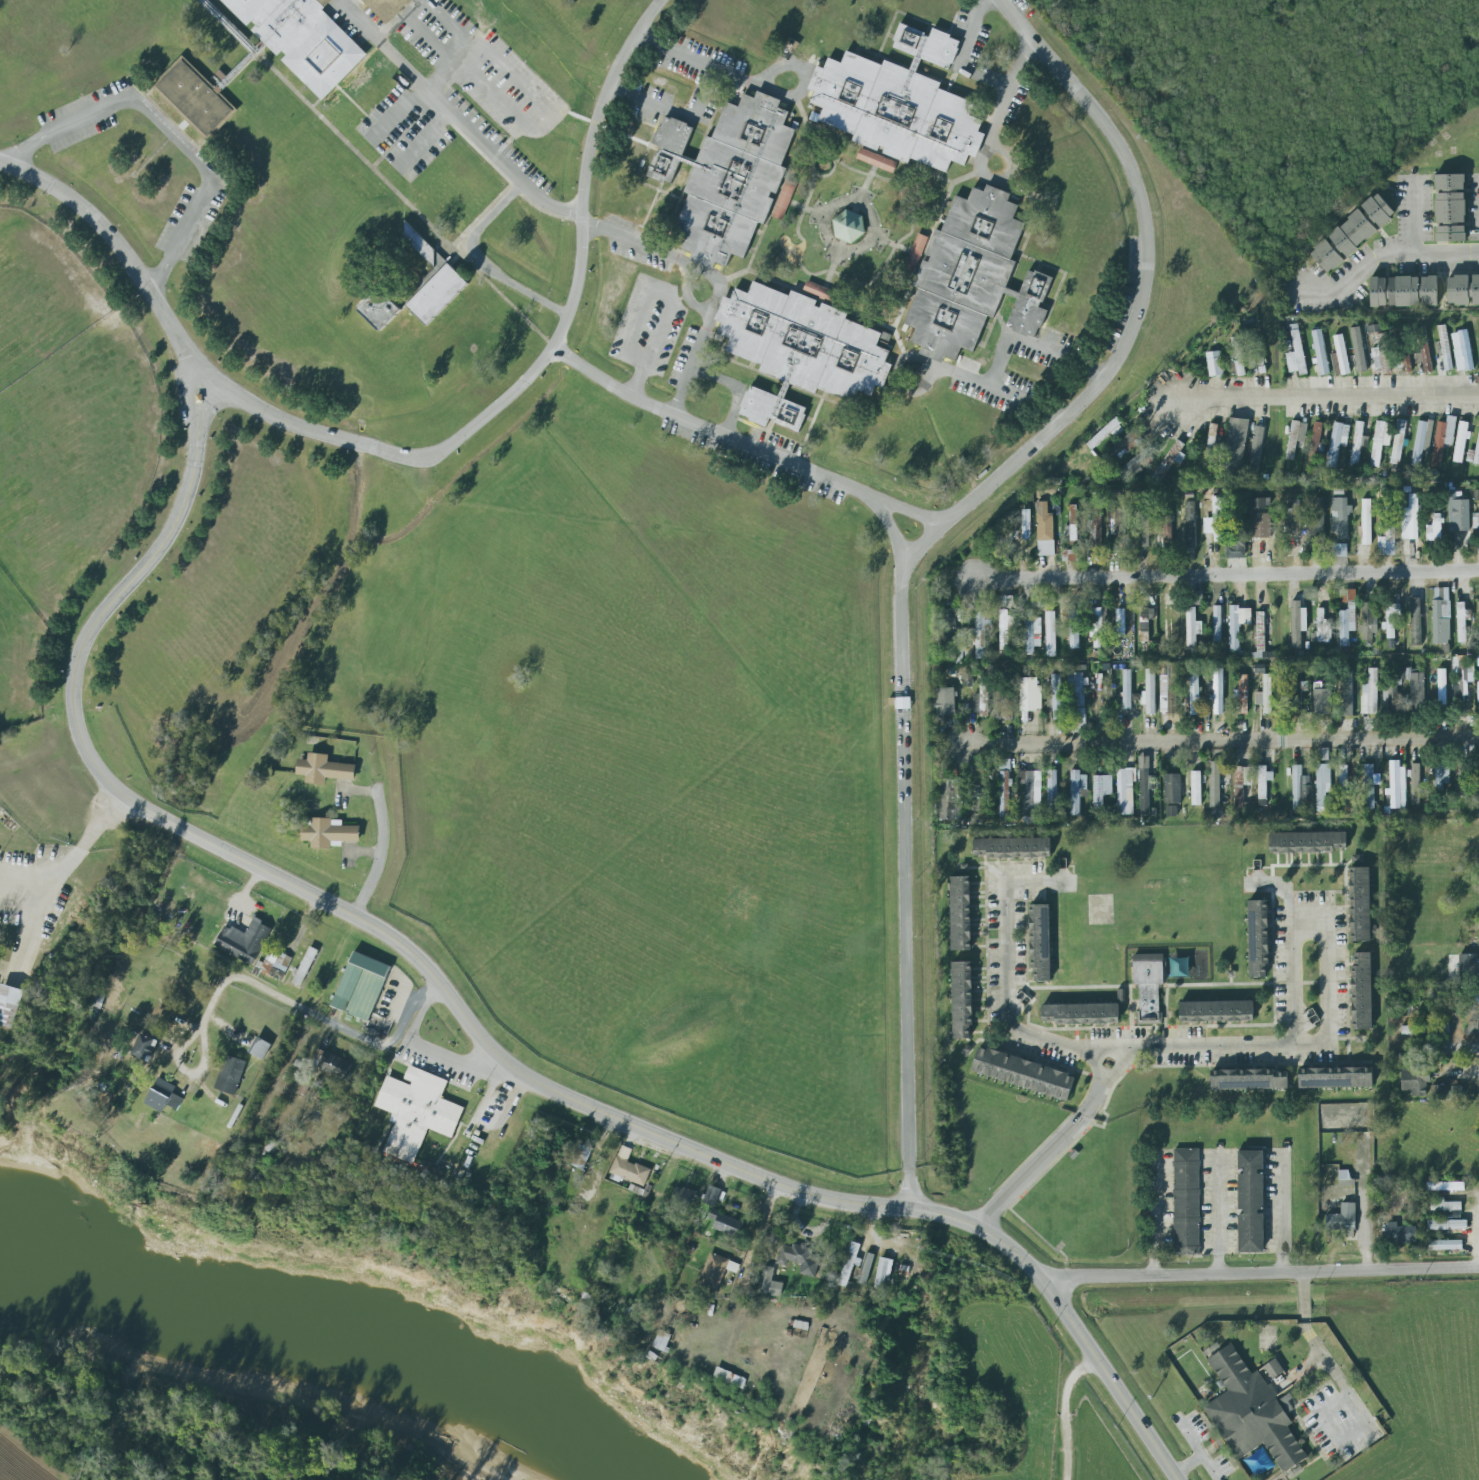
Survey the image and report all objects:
building: (387, 8)
road: (410, 18)
building: (303, 39)
road: (786, 66)
road: (981, 72)
road: (701, 95)
building: (196, 96)
building: (898, 103)
road: (398, 112)
road: (551, 121)
road: (995, 121)
road: (164, 130)
road: (423, 141)
building: (876, 161)
building: (726, 177)
road: (514, 180)
building: (1450, 208)
road: (489, 219)
road: (1415, 220)
building: (848, 226)
building: (1352, 233)
building: (424, 252)
building: (916, 252)
road: (1384, 262)
building: (973, 277)
building: (1463, 289)
building: (1412, 291)
road: (657, 292)
building: (1378, 292)
building: (438, 295)
building: (381, 310)
road: (709, 311)
road: (532, 328)
building: (1373, 328)
building: (1356, 340)
building: (1445, 347)
road: (1003, 349)
building: (799, 350)
building: (1319, 351)
building: (1298, 352)
building: (1463, 352)
building: (1237, 355)
building: (1424, 356)
building: (1403, 362)
building: (1214, 363)
road: (952, 372)
road: (719, 377)
road: (637, 378)
road: (1322, 394)
building: (1106, 433)
building: (1295, 438)
building: (1442, 439)
building: (1421, 440)
building: (1379, 441)
building: (1337, 442)
building: (1398, 442)
building: (1460, 442)
building: (1127, 443)
building: (1357, 444)
building: (1314, 445)
building: (1256, 449)
building: (1234, 450)
building: (1477, 452)
road: (435, 456)
building: (1169, 461)
building: (1132, 463)
road: (913, 513)
building: (1458, 513)
building: (1340, 517)
building: (1317, 518)
building: (1293, 519)
building: (1409, 519)
building: (1215, 520)
building: (1118, 521)
building: (1366, 522)
building: (1095, 523)
building: (1026, 524)
building: (1190, 524)
building: (1073, 525)
building: (1261, 525)
building: (1475, 526)
building: (1433, 528)
building: (1164, 529)
building: (1045, 530)
building: (1142, 530)
building: (1388, 535)
road: (938, 542)
building: (1236, 548)
building: (1069, 555)
road: (1223, 571)
road: (135, 586)
building: (1007, 602)
building: (1441, 615)
building: (1346, 617)
building: (1392, 619)
building: (1415, 621)
building: (1462, 621)
building: (1145, 622)
building: (1369, 622)
building: (1120, 623)
building: (1216, 623)
building: (1297, 624)
building: (1237, 625)
building: (1098, 627)
building: (1322, 627)
building: (1005, 629)
building: (1073, 629)
building: (1192, 629)
building: (1028, 631)
building: (1260, 631)
building: (981, 632)
building: (1050, 634)
building: (1463, 682)
building: (1441, 688)
building: (1126, 689)
building: (1167, 689)
building: (1218, 691)
building: (1298, 691)
building: (1149, 692)
building: (1193, 692)
building: (1477, 692)
building: (1369, 693)
building: (1028, 694)
building: (1242, 694)
building: (1265, 694)
building: (1346, 694)
building: (1056, 697)
building: (1392, 697)
building: (945, 701)
building: (1077, 701)
building: (1003, 709)
road: (1225, 742)
building: (1323, 754)
building: (325, 769)
building: (1342, 776)
building: (1440, 776)
building: (1463, 779)
building: (1263, 781)
building: (1214, 784)
building: (1322, 784)
building: (1396, 784)
building: (1414, 784)
building: (1144, 785)
building: (1241, 785)
building: (1369, 785)
building: (1004, 787)
building: (1196, 788)
building: (1300, 788)
building: (1101, 789)
building: (1172, 789)
building: (1124, 791)
building: (1053, 793)
building: (1032, 796)
building: (950, 799)
building: (1171, 810)
building: (329, 832)
building: (1307, 842)
building: (1012, 846)
road: (77, 854)
road: (381, 858)
building: (1360, 904)
building: (961, 913)
building: (1258, 939)
building: (244, 941)
building: (1040, 941)
building: (276, 964)
building: (1466, 965)
building: (305, 966)
road: (1327, 985)
building: (361, 986)
building: (1148, 986)
building: (1361, 991)
building: (962, 998)
building: (11, 1004)
building: (1216, 1011)
building: (1080, 1013)
road: (317, 1016)
building: (1473, 1028)
building: (1425, 1029)
building: (145, 1047)
building: (261, 1048)
road: (1458, 1049)
road: (422, 1050)
road: (1109, 1051)
building: (335, 1066)
road: (1466, 1071)
building: (1023, 1073)
building: (230, 1075)
building: (1335, 1077)
building: (1248, 1079)
building: (1415, 1080)
road: (495, 1092)
building: (1438, 1092)
building: (163, 1096)
building: (417, 1111)
road: (666, 1140)
road: (1053, 1147)
building: (629, 1167)
building: (1345, 1179)
building: (1446, 1186)
road: (586, 1195)
building: (712, 1195)
road: (1364, 1200)
building: (1186, 1202)
building: (1250, 1202)
building: (1445, 1206)
road: (1218, 1214)
road: (1282, 1214)
road: (1158, 1216)
building: (1342, 1218)
building: (728, 1225)
building: (1447, 1225)
building: (1400, 1234)
building: (1445, 1245)
building: (799, 1258)
road: (878, 1260)
building: (850, 1264)
building: (865, 1269)
building: (717, 1270)
road: (1259, 1272)
building: (884, 1274)
building: (768, 1282)
building: (662, 1341)
river: (313, 1356)
building: (1273, 1369)
building: (724, 1376)
road: (1350, 1396)
building: (1285, 1405)
building: (1250, 1412)
road: (1075, 1416)

